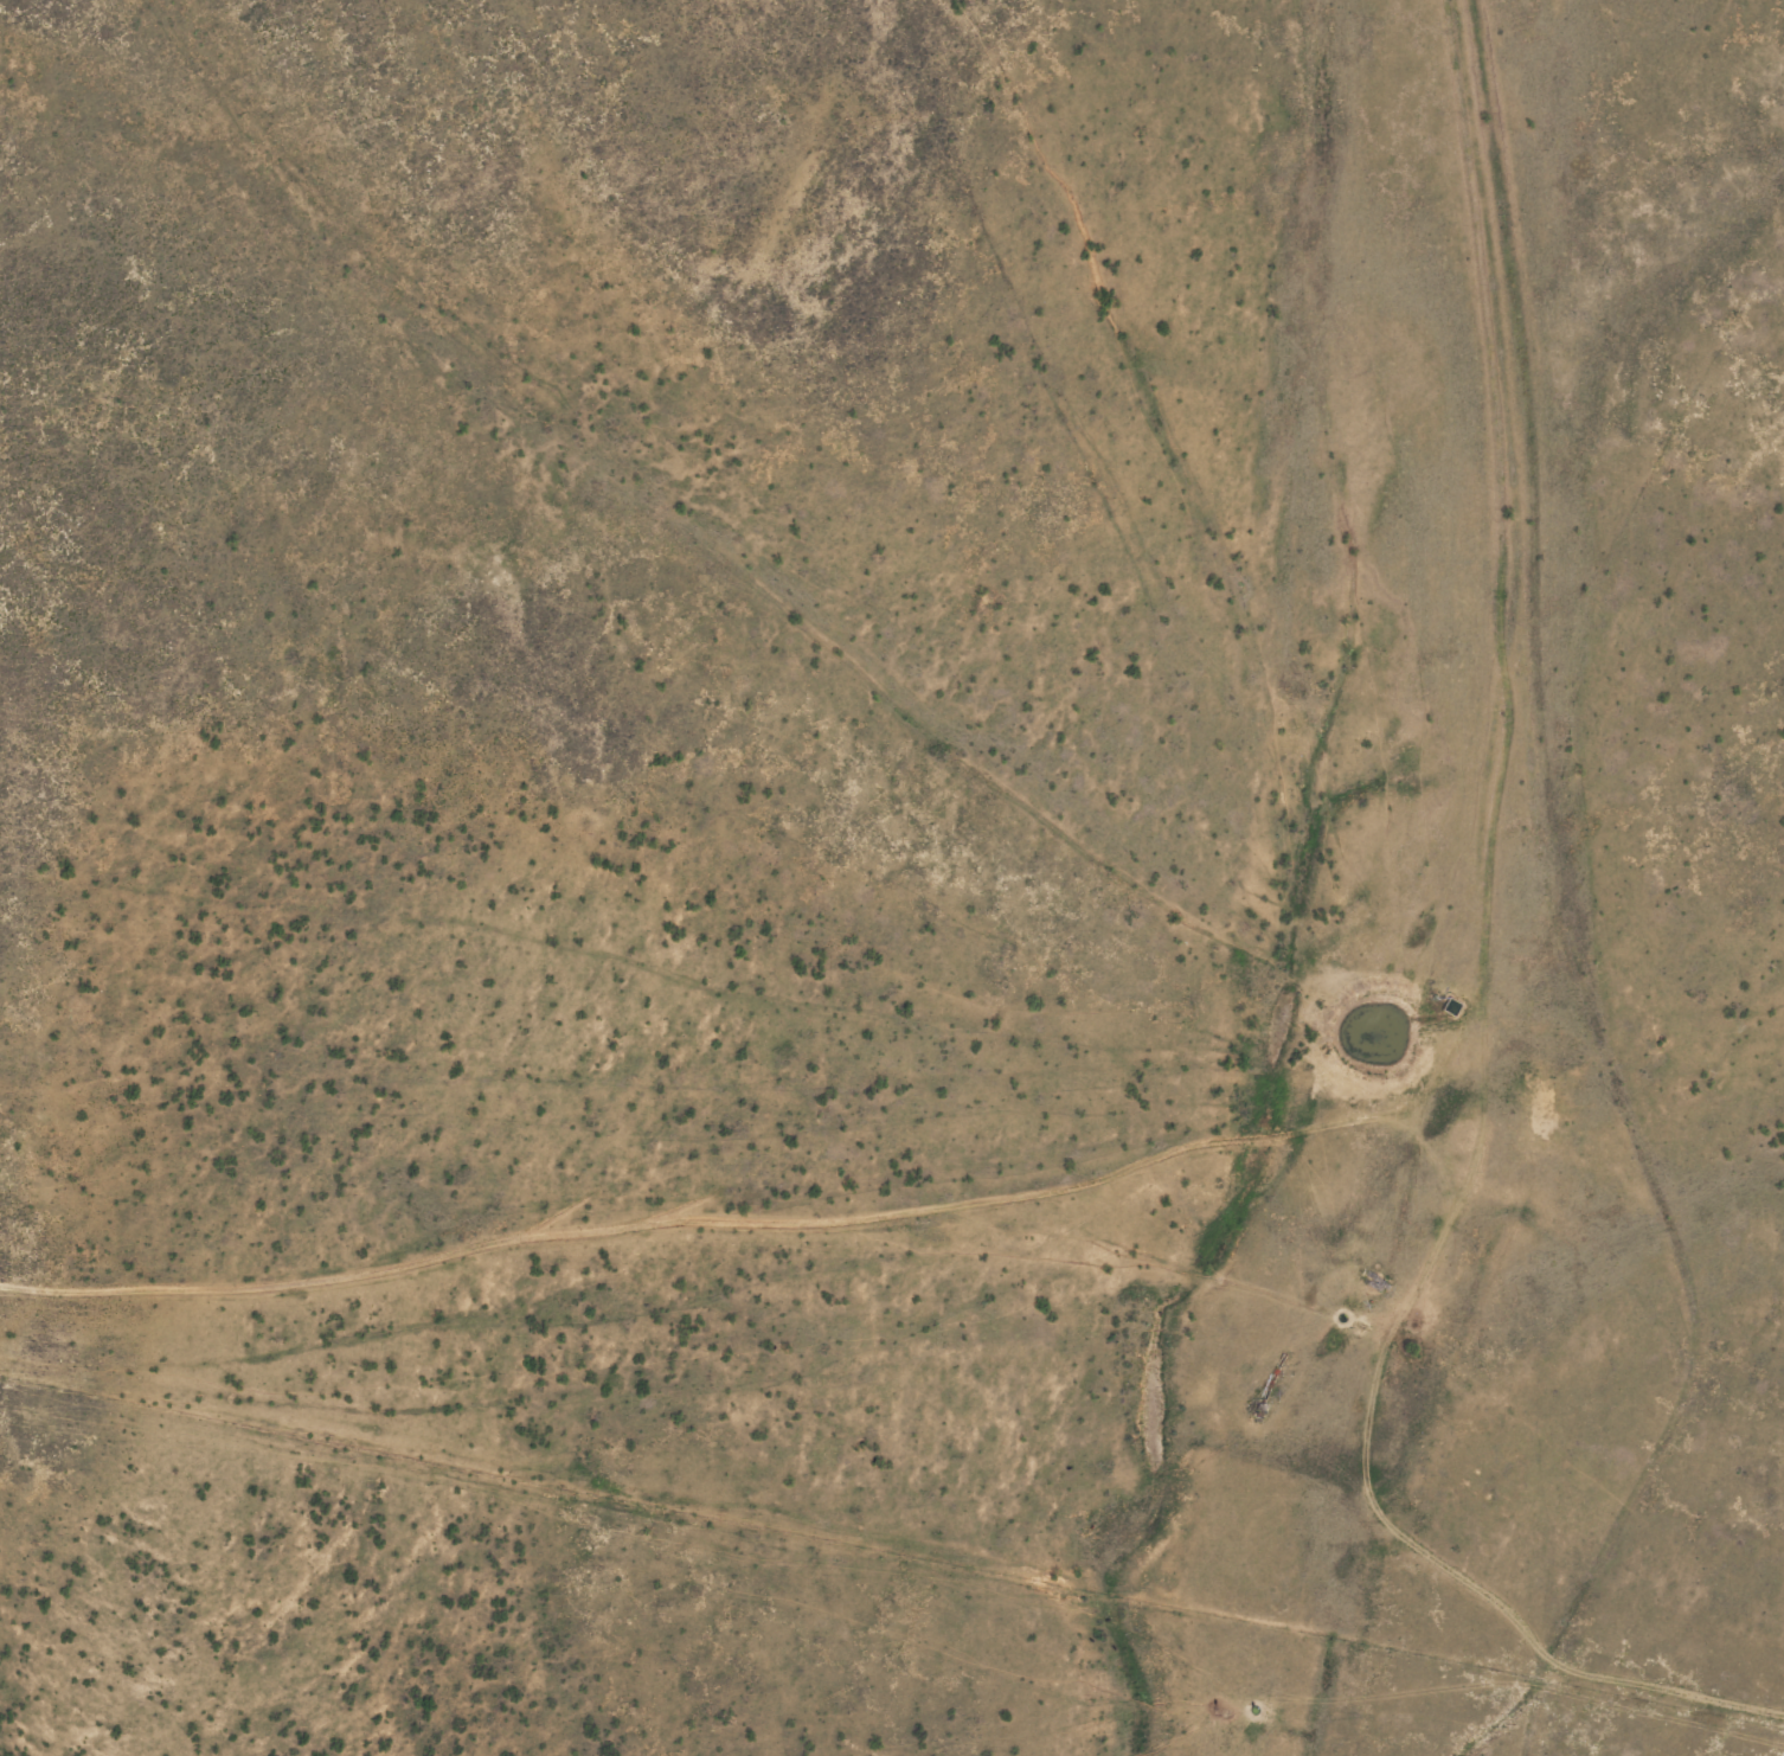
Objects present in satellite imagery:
road: (1549, 914)

